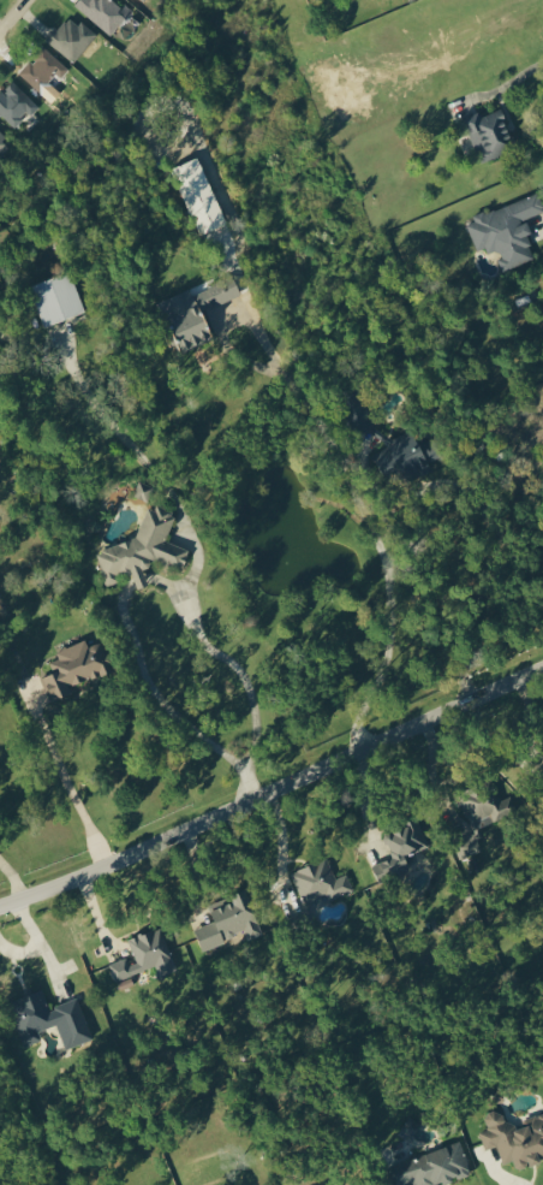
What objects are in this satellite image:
building: (105, 12)
road: (12, 14)
building: (74, 36)
building: (42, 69)
road: (505, 84)
building: (14, 103)
building: (489, 134)
building: (2, 138)
building: (205, 211)
building: (506, 231)
building: (58, 298)
building: (202, 312)
building: (354, 408)
building: (407, 455)
building: (142, 493)
road: (377, 521)
building: (143, 550)
road: (442, 592)
building: (74, 668)
road: (258, 685)
road: (74, 778)
road: (273, 794)
building: (484, 804)
building: (400, 851)
road: (17, 870)
building: (321, 882)
building: (229, 920)
building: (145, 955)
building: (49, 1018)
building: (408, 1127)
building: (514, 1138)
building: (431, 1166)

